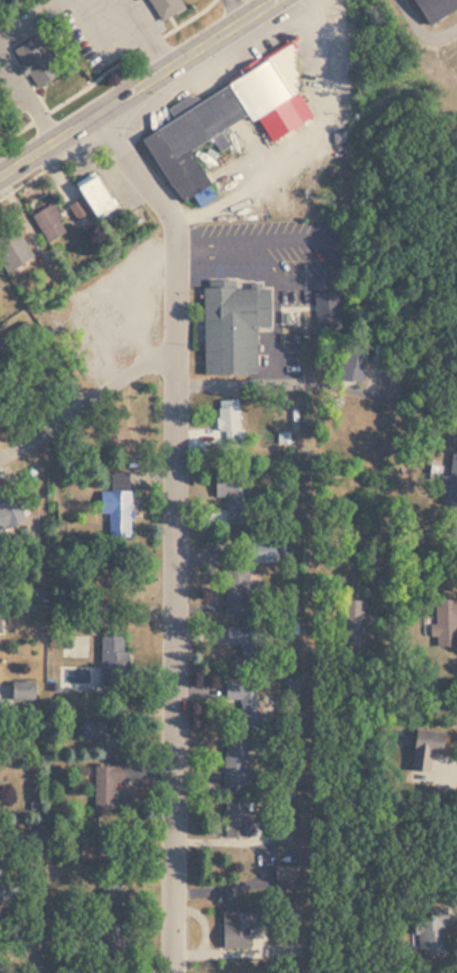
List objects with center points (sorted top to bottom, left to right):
building: (164, 7)
building: (432, 8)
road: (190, 17)
road: (173, 22)
road: (423, 33)
building: (34, 59)
road: (106, 71)
road: (137, 85)
building: (225, 119)
road: (25, 126)
road: (302, 142)
building: (90, 200)
building: (47, 222)
building: (11, 248)
parking lot: (272, 287)
parking lot: (118, 310)
building: (231, 326)
railway: (421, 331)
building: (353, 360)
road: (88, 405)
building: (227, 421)
building: (449, 482)
building: (115, 495)
building: (232, 495)
building: (10, 513)
road: (176, 529)
building: (237, 590)
building: (443, 621)
building: (356, 624)
building: (232, 632)
building: (111, 658)
building: (241, 703)
building: (422, 749)
building: (234, 764)
building: (106, 788)
building: (235, 818)
building: (278, 832)
building: (284, 873)
building: (0, 883)
building: (108, 894)
building: (234, 929)
building: (430, 932)

